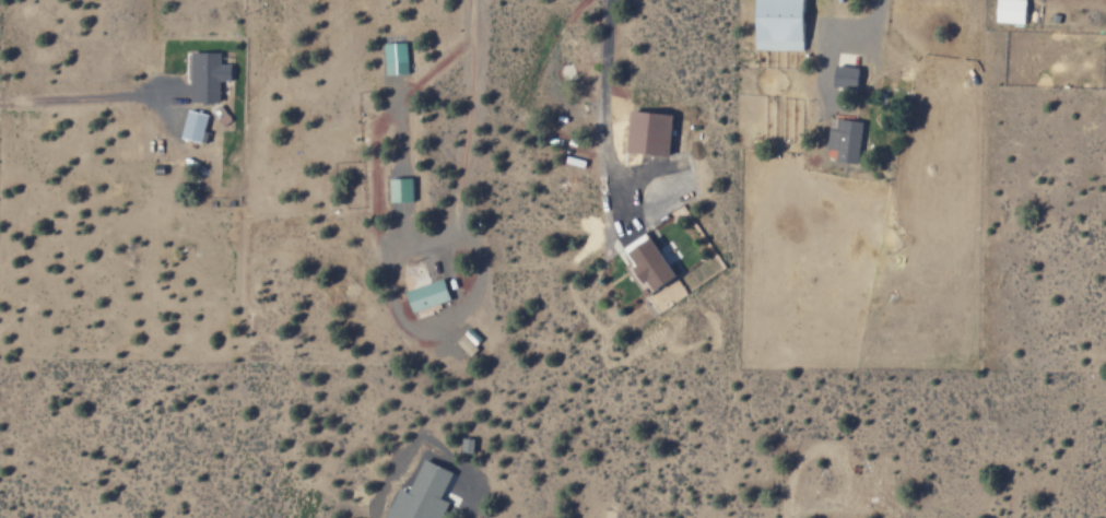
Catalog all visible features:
building: (1013, 11)
building: (784, 24)
building: (397, 58)
building: (209, 75)
building: (848, 75)
road: (612, 83)
building: (196, 125)
building: (654, 131)
building: (847, 139)
building: (401, 189)
building: (658, 264)
building: (428, 295)
building: (470, 445)
building: (425, 494)

